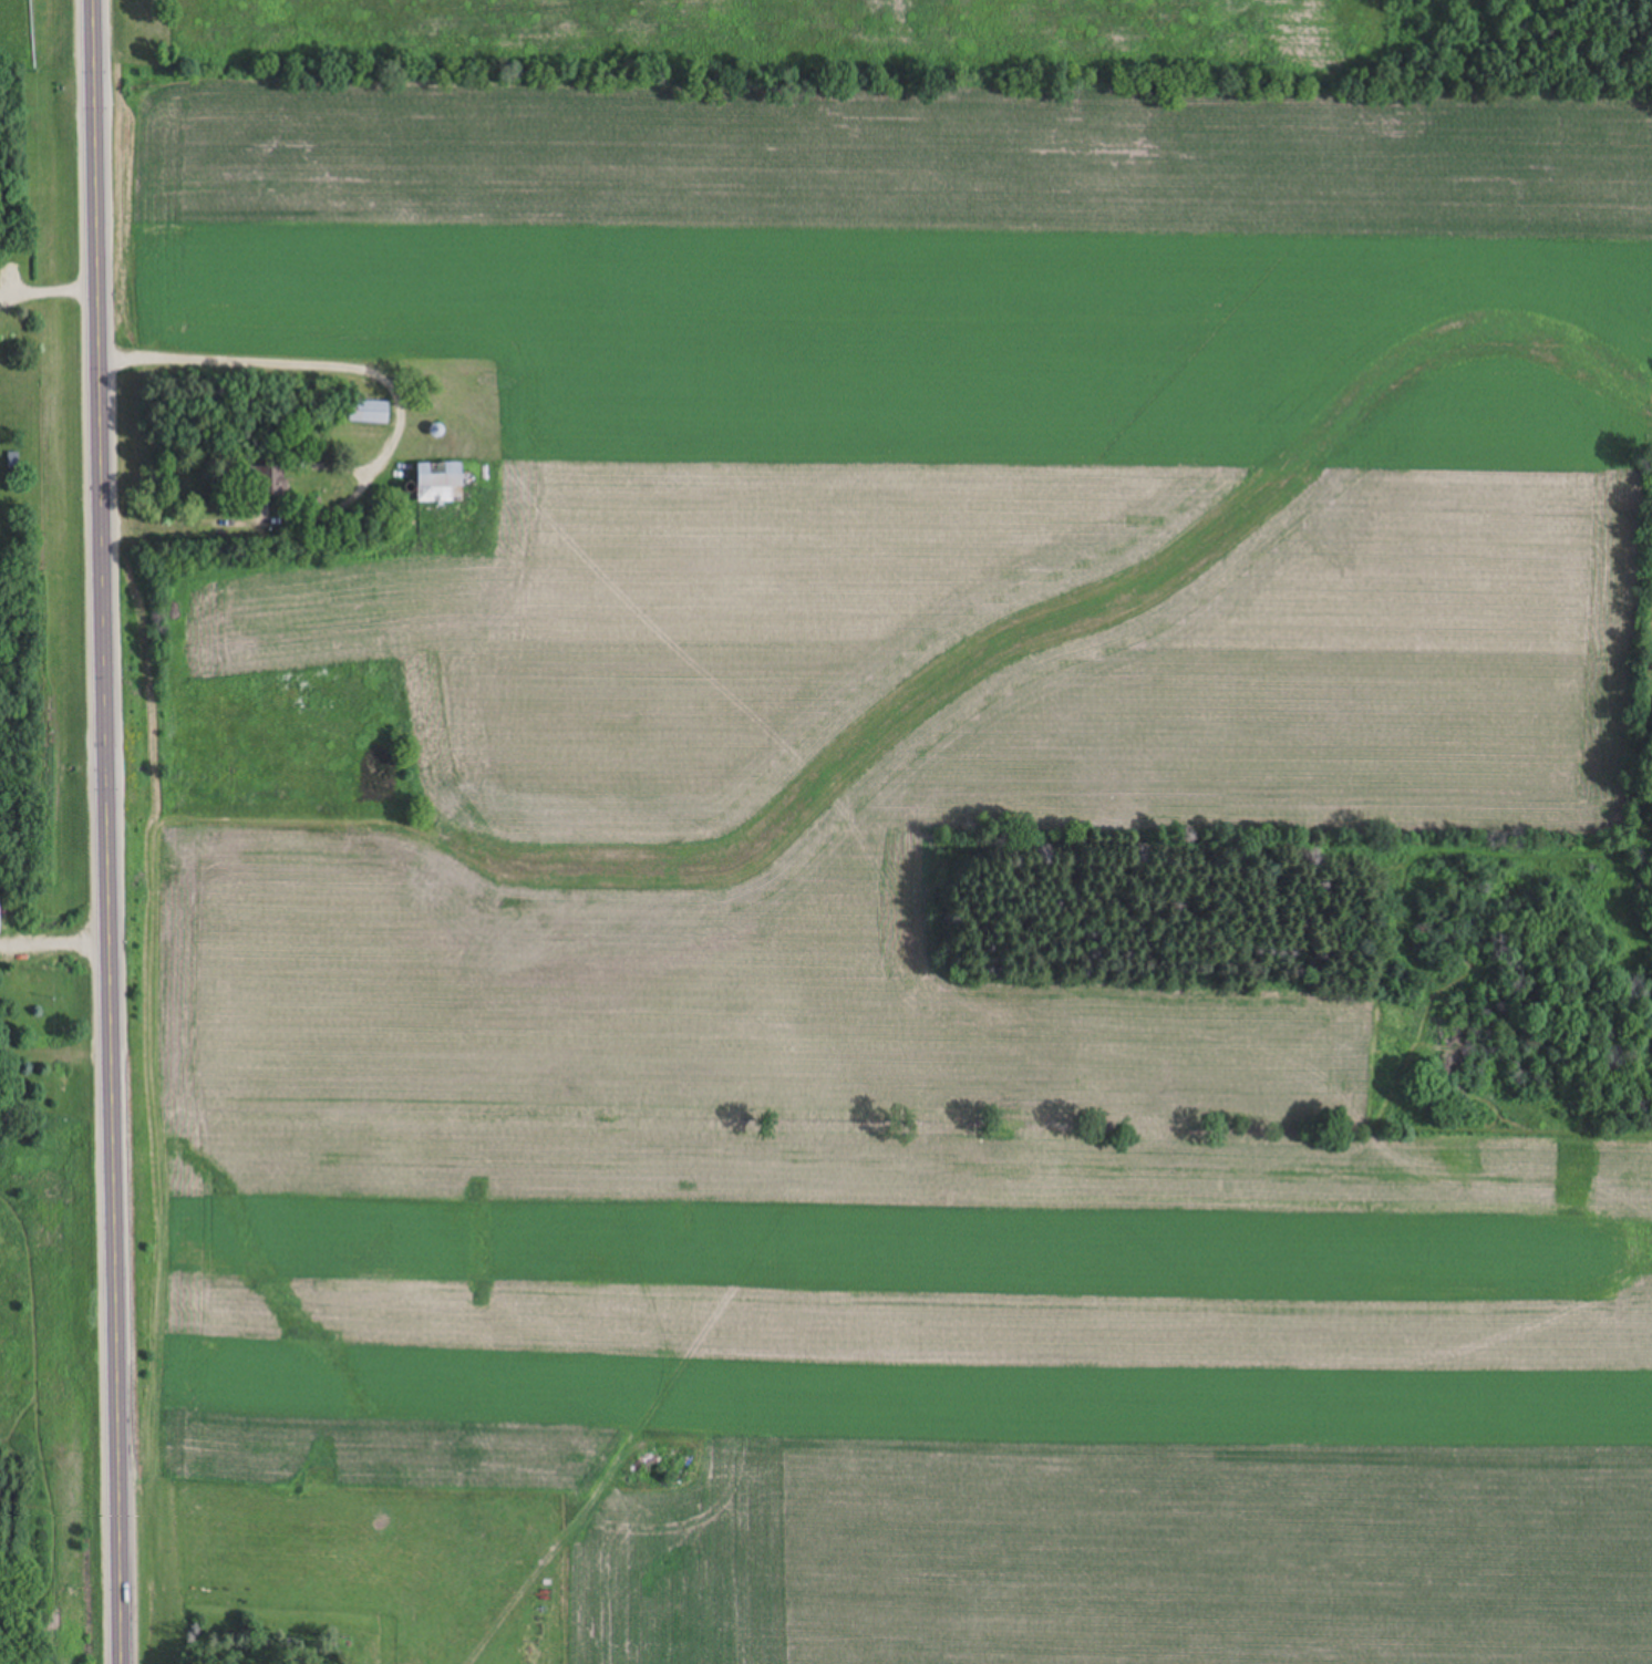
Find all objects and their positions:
road: (300, 365)
building: (372, 413)
building: (269, 482)
building: (440, 483)
road: (107, 831)

